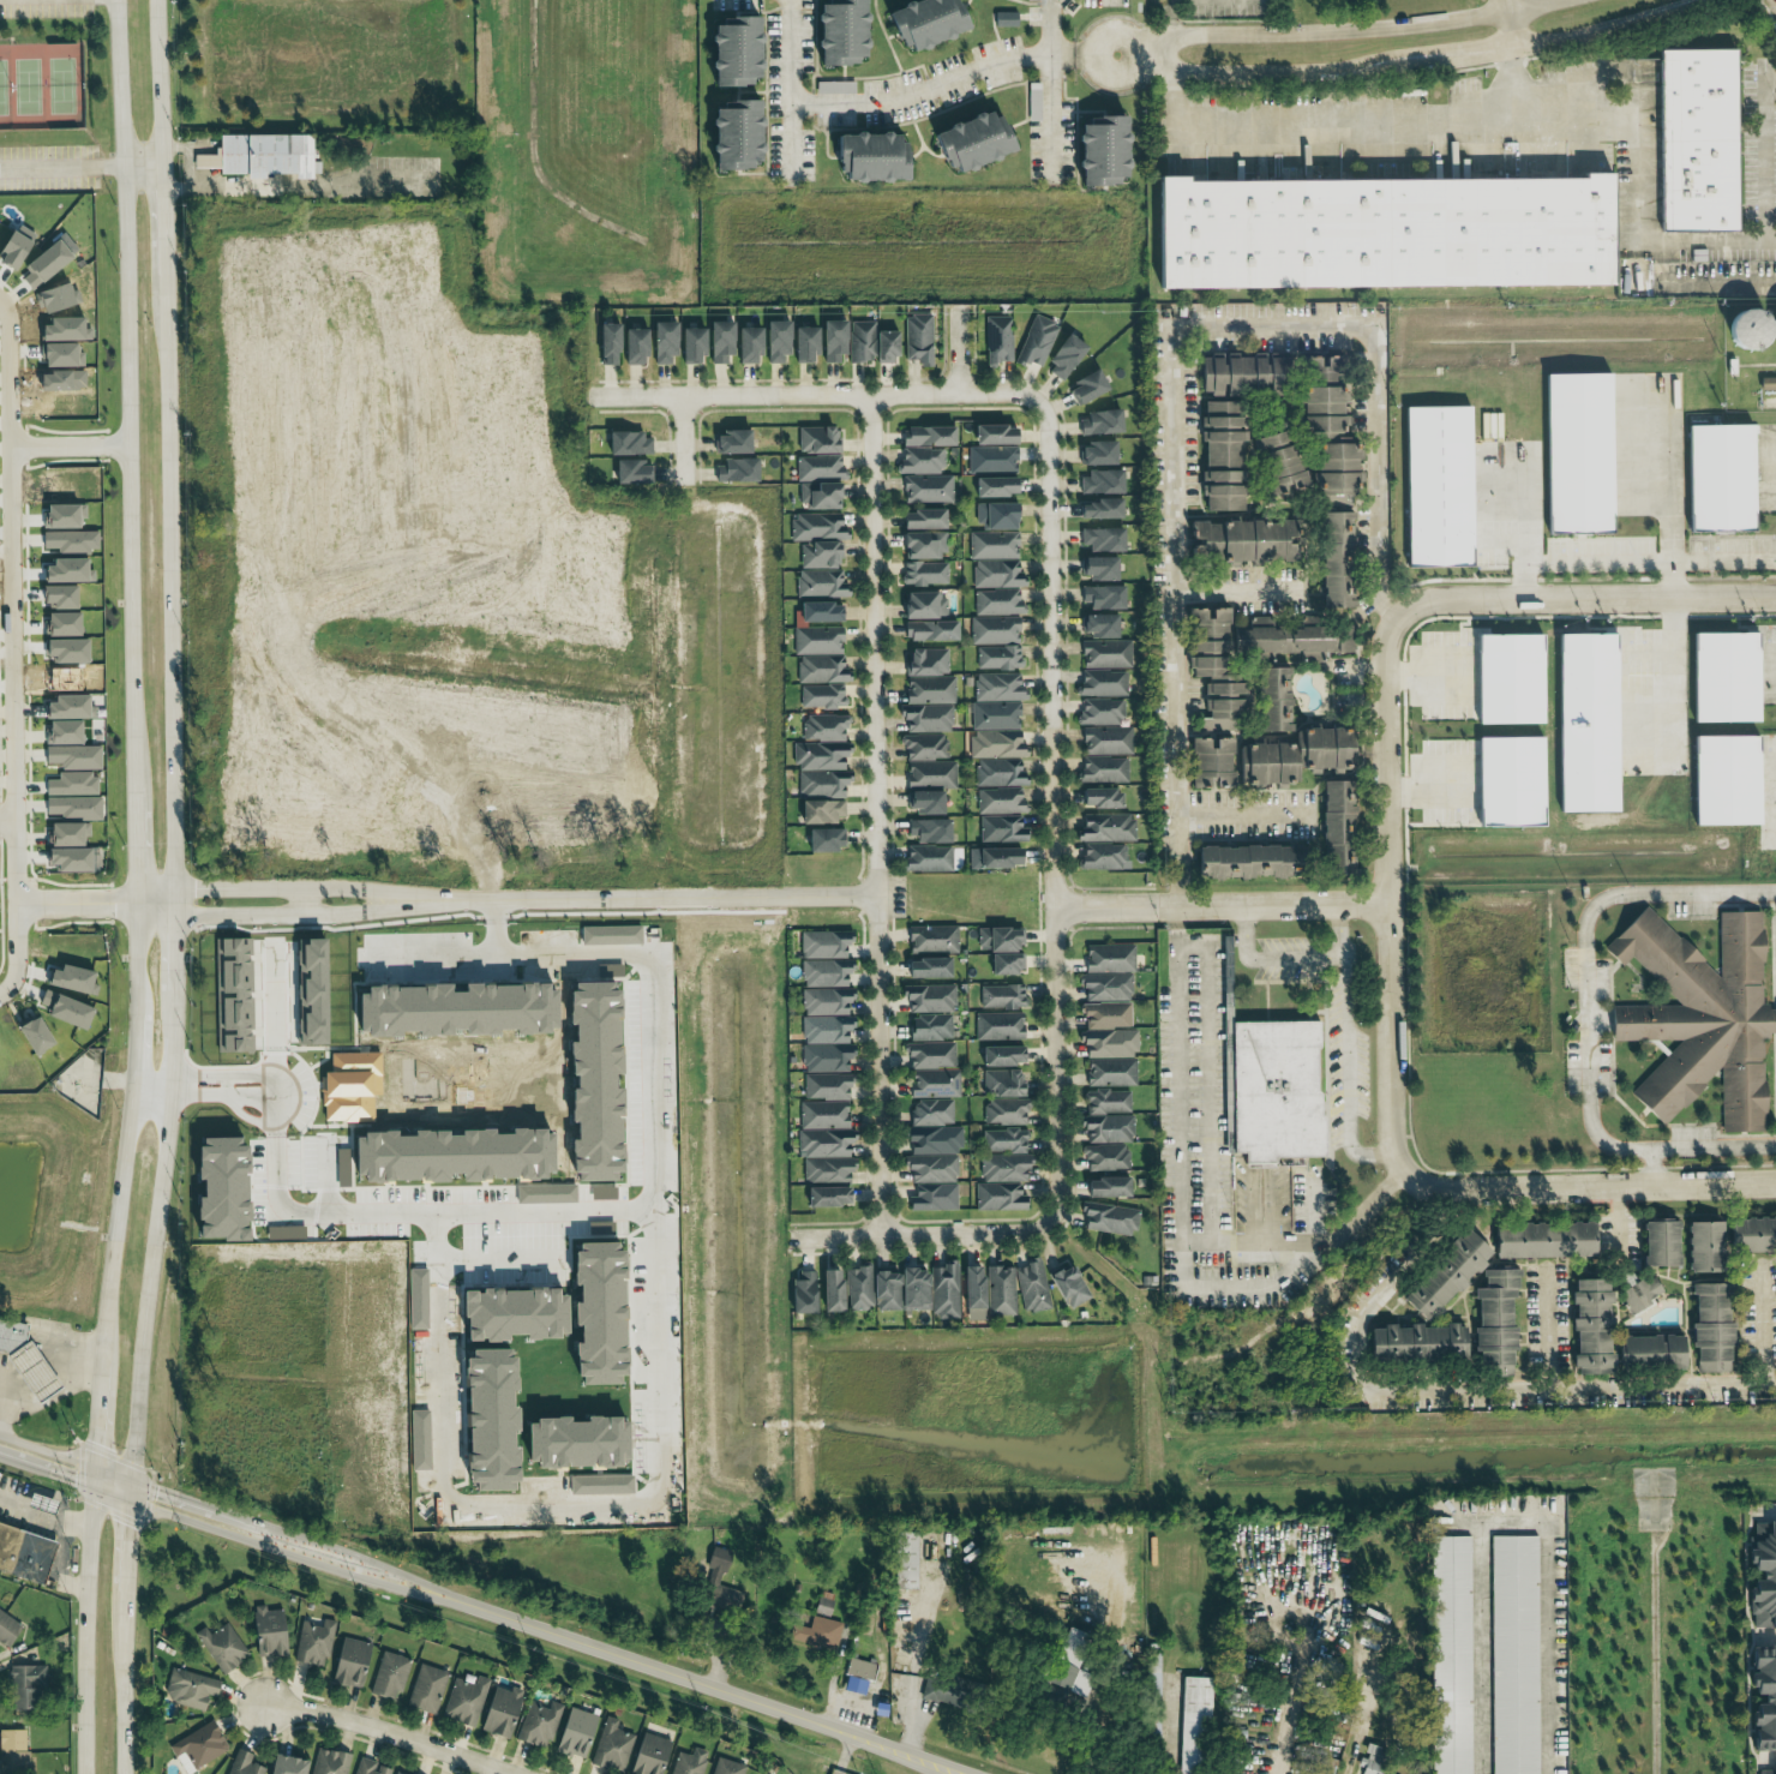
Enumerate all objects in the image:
road: (1170, 17)
building: (1004, 19)
road: (1510, 23)
building: (922, 24)
road: (1046, 28)
road: (1342, 30)
building: (838, 32)
building: (732, 53)
road: (1082, 55)
road: (1159, 55)
road: (1408, 64)
road: (158, 73)
park: (62, 85)
park: (2, 86)
park: (28, 86)
road: (1512, 86)
building: (834, 88)
road: (785, 91)
road: (919, 91)
road: (1046, 115)
road: (1588, 125)
building: (732, 136)
building: (1700, 140)
building: (968, 144)
road: (143, 148)
road: (179, 148)
road: (199, 149)
building: (1098, 154)
road: (162, 156)
building: (256, 157)
building: (868, 160)
road: (202, 161)
road: (82, 167)
road: (203, 178)
road: (316, 184)
road: (182, 187)
road: (163, 220)
building: (1388, 234)
road: (1771, 241)
building: (1754, 330)
building: (917, 338)
building: (997, 340)
building: (774, 341)
building: (832, 341)
building: (860, 341)
building: (661, 342)
building: (718, 342)
building: (1034, 342)
building: (605, 343)
building: (690, 344)
building: (746, 344)
building: (803, 344)
building: (631, 346)
building: (884, 347)
road: (1375, 349)
road: (955, 350)
building: (1063, 358)
building: (1237, 373)
building: (1766, 383)
building: (1085, 386)
road: (808, 394)
building: (1098, 422)
building: (1326, 425)
building: (992, 434)
building: (925, 436)
road: (680, 437)
building: (818, 439)
building: (731, 442)
building: (625, 443)
road: (70, 447)
building: (1094, 453)
building: (1583, 453)
building: (1219, 455)
building: (990, 460)
building: (920, 461)
building: (1276, 462)
building: (818, 468)
building: (736, 469)
building: (629, 471)
building: (1724, 478)
building: (1099, 481)
building: (994, 486)
building: (926, 489)
building: (1442, 489)
building: (818, 496)
building: (1098, 509)
building: (996, 516)
building: (920, 519)
building: (817, 527)
building: (1099, 539)
building: (1244, 540)
building: (923, 545)
building: (992, 545)
building: (818, 555)
building: (1333, 559)
road: (1705, 561)
road: (1578, 562)
building: (1097, 568)
building: (923, 574)
building: (996, 574)
road: (169, 581)
building: (818, 583)
road: (1240, 586)
road: (1180, 595)
building: (1102, 597)
road: (1380, 597)
road: (1584, 599)
building: (996, 603)
building: (922, 605)
building: (818, 612)
building: (1097, 625)
building: (928, 630)
building: (816, 641)
building: (995, 642)
road: (13, 647)
building: (1104, 653)
building: (925, 661)
building: (820, 669)
road: (131, 670)
road: (1673, 676)
building: (1507, 678)
building: (1727, 678)
building: (1100, 683)
building: (997, 687)
building: (821, 696)
building: (926, 705)
building: (62, 707)
building: (1099, 712)
building: (994, 715)
building: (1585, 723)
building: (60, 732)
building: (1105, 741)
building: (821, 744)
building: (996, 744)
building: (923, 747)
building: (1291, 755)
building: (72, 757)
building: (1102, 769)
building: (998, 772)
building: (929, 774)
building: (1507, 781)
building: (1727, 781)
building: (821, 783)
building: (70, 784)
building: (1099, 798)
building: (1000, 801)
building: (923, 802)
road: (1052, 805)
building: (71, 808)
road: (1244, 810)
building: (820, 811)
road: (870, 815)
road: (7, 820)
building: (1106, 828)
building: (1332, 828)
building: (1001, 829)
building: (928, 831)
building: (65, 834)
building: (823, 839)
building: (1103, 856)
building: (994, 857)
building: (926, 858)
building: (66, 859)
building: (1246, 861)
road: (308, 887)
road: (1387, 894)
road: (155, 897)
road: (1182, 897)
road: (656, 898)
road: (302, 900)
road: (175, 901)
road: (76, 905)
road: (1222, 906)
road: (155, 910)
road: (308, 912)
building: (931, 939)
building: (998, 940)
building: (823, 945)
road: (175, 957)
building: (1108, 958)
road: (1267, 960)
building: (1004, 964)
building: (925, 967)
building: (824, 973)
road: (1589, 978)
building: (70, 981)
building: (1104, 987)
road: (2, 994)
building: (1001, 996)
building: (928, 997)
building: (824, 1001)
building: (62, 1011)
building: (1699, 1017)
road: (174, 1024)
building: (997, 1026)
building: (929, 1027)
building: (824, 1030)
building: (1108, 1030)
building: (31, 1035)
road: (1345, 1049)
building: (929, 1055)
building: (1001, 1056)
building: (826, 1057)
building: (1109, 1072)
building: (932, 1084)
building: (1002, 1084)
building: (826, 1086)
building: (1272, 1091)
building: (1106, 1102)
building: (930, 1111)
building: (1004, 1111)
building: (1106, 1129)
building: (1003, 1140)
building: (823, 1143)
road: (1715, 1149)
building: (931, 1153)
building: (1105, 1158)
building: (1003, 1168)
building: (826, 1170)
building: (1105, 1187)
road: (1181, 1187)
road: (1586, 1187)
building: (826, 1197)
building: (997, 1197)
building: (932, 1198)
road: (1368, 1201)
road: (553, 1209)
building: (1106, 1218)
road: (1626, 1222)
building: (1751, 1235)
road: (923, 1236)
building: (1542, 1240)
road: (1261, 1243)
building: (1658, 1243)
building: (1702, 1247)
road: (151, 1265)
building: (1444, 1275)
building: (1031, 1285)
building: (1067, 1287)
building: (884, 1289)
building: (942, 1290)
building: (829, 1291)
building: (998, 1291)
building: (971, 1293)
building: (1639, 1293)
building: (802, 1294)
road: (1770, 1321)
building: (1589, 1327)
building: (1710, 1327)
road: (1549, 1331)
building: (12, 1336)
building: (1453, 1336)
building: (1649, 1352)
road: (73, 1361)
road: (30, 1366)
building: (34, 1372)
gas station: (34, 1372)
road: (7, 1379)
road: (1451, 1394)
road: (98, 1413)
traffic signals: (97, 1443)
road: (48, 1452)
road: (66, 1479)
traffic signals: (73, 1482)
traffic signals: (160, 1491)
road: (180, 1497)
building: (43, 1503)
gas station: (43, 1503)
road: (553, 1503)
road: (46, 1515)
road: (1514, 1524)
traffic signals: (131, 1526)
road: (128, 1547)
building: (25, 1554)
building: (716, 1560)
building: (904, 1560)
road: (305, 1562)
road: (374, 1564)
building: (1763, 1576)
building: (823, 1606)
building: (6, 1630)
road: (85, 1631)
building: (265, 1632)
building: (821, 1634)
building: (312, 1643)
building: (220, 1648)
road: (919, 1649)
building: (1448, 1655)
building: (1512, 1655)
building: (348, 1662)
building: (1069, 1667)
building: (388, 1676)
building: (857, 1676)
road: (691, 1684)
road: (1109, 1684)
building: (24, 1686)
building: (187, 1689)
building: (426, 1690)
building: (948, 1691)
road: (124, 1694)
building: (1763, 1700)
building: (463, 1701)
building: (499, 1713)
road: (1291, 1718)
building: (1190, 1722)
building: (538, 1724)
road: (388, 1732)
building: (575, 1732)
building: (196, 1748)
building: (611, 1748)
building: (12, 1752)
building: (647, 1755)
building: (1369, 1760)
building: (328, 1762)
building: (688, 1762)
building: (241, 1764)
building: (283, 1766)
road: (926, 1766)
building: (367, 1767)
building: (725, 1767)
building: (1765, 1772)
building: (396, 1773)
building: (1385, 1773)

